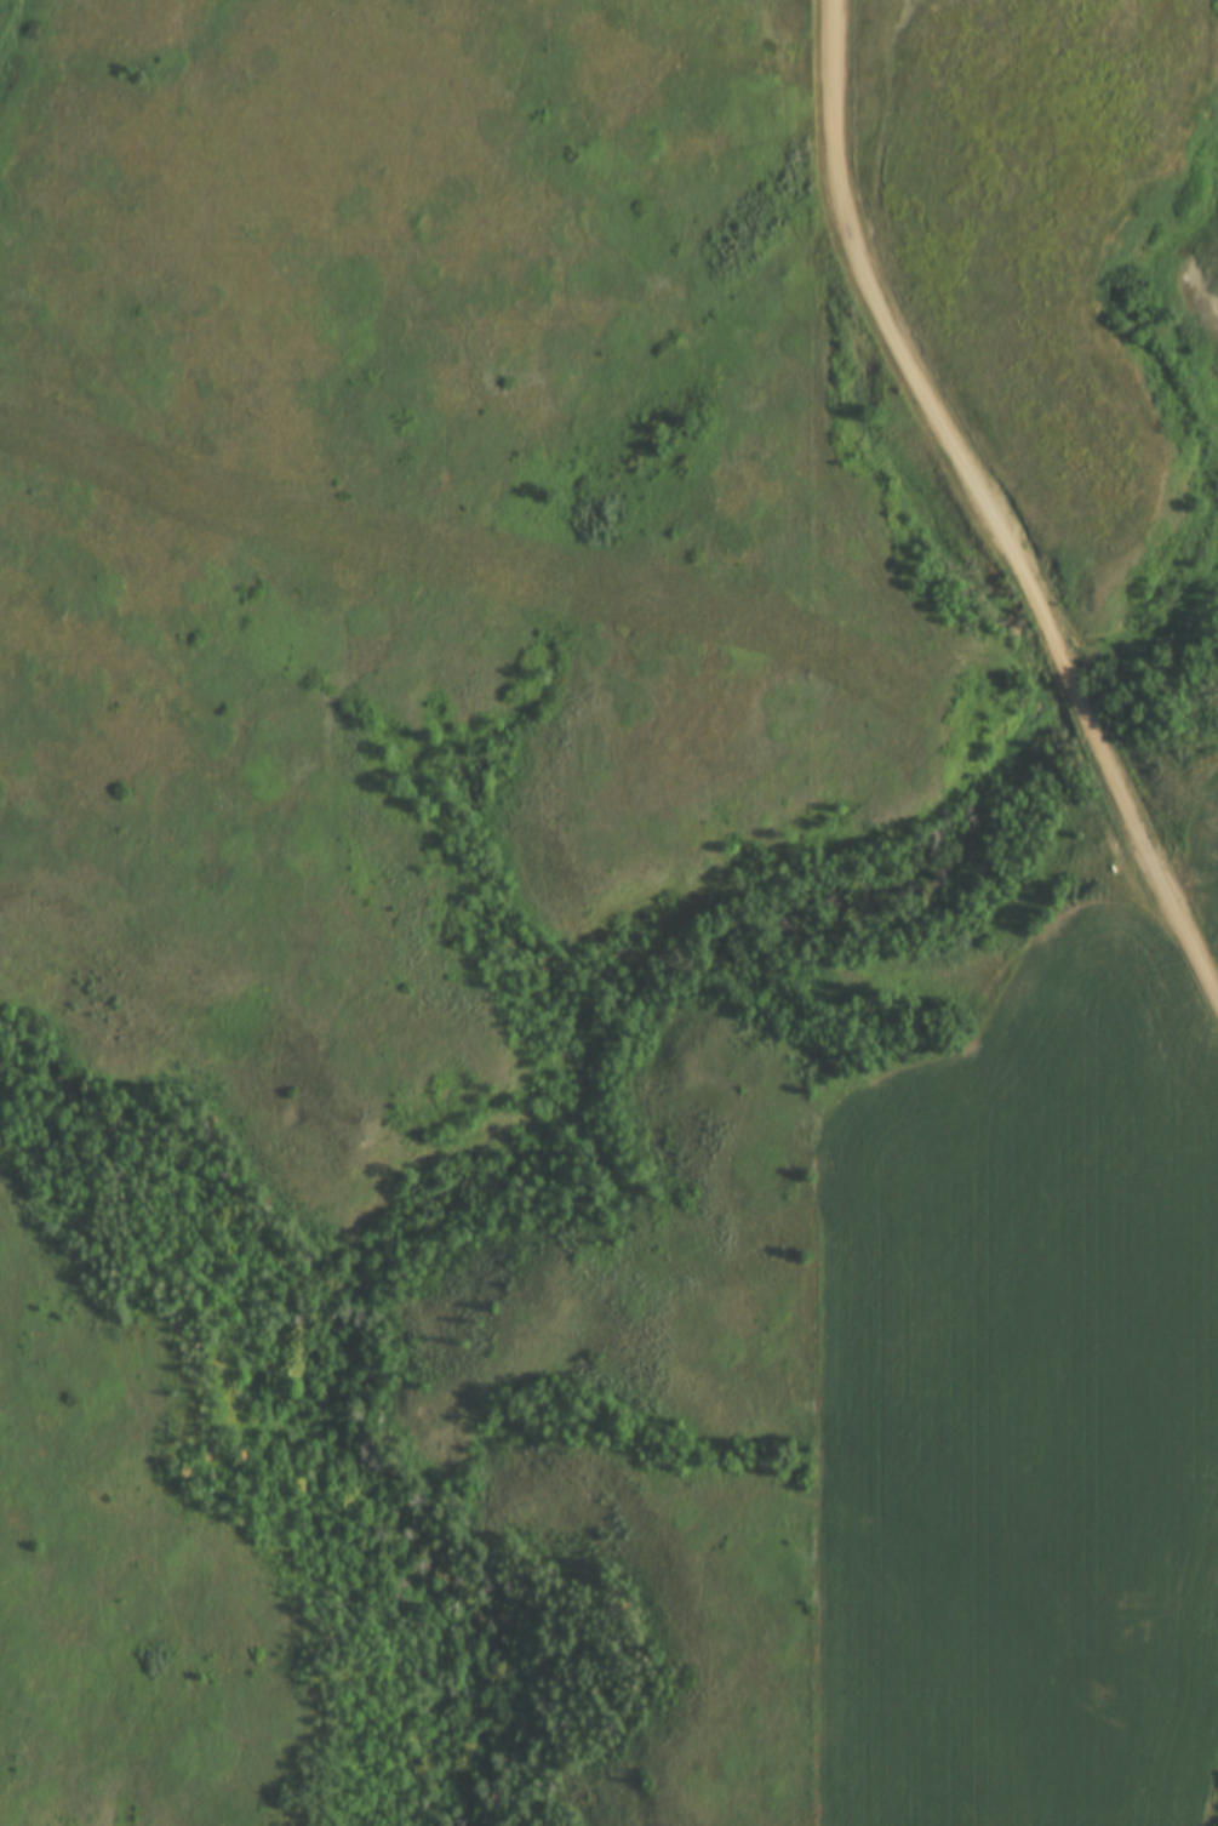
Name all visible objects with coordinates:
road: (988, 501)

